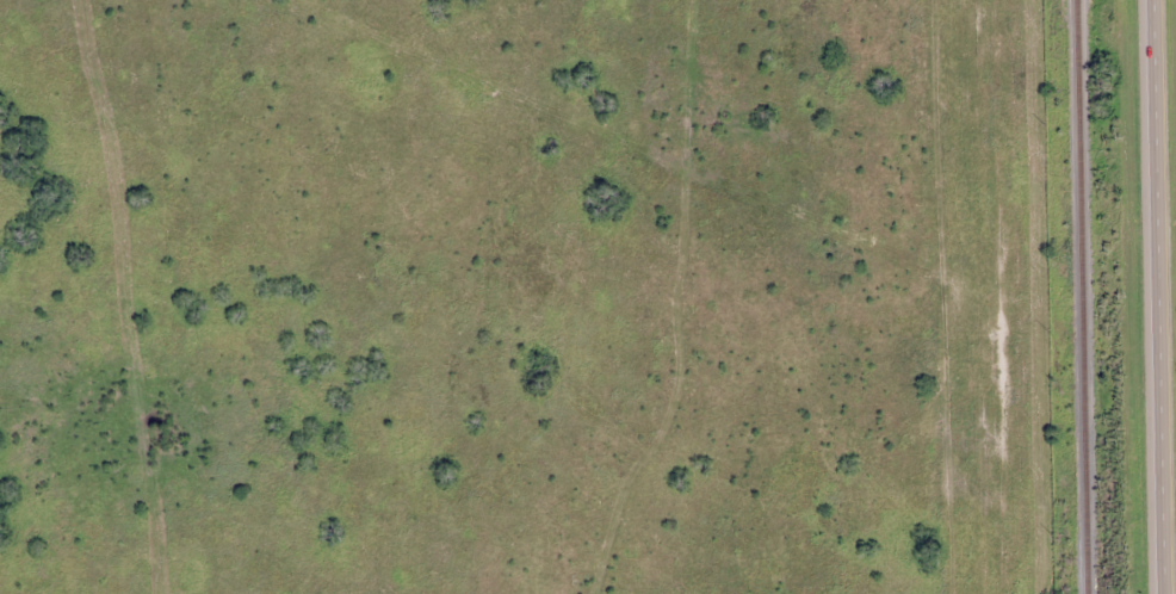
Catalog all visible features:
road: (1165, 296)
railway: (1082, 297)

